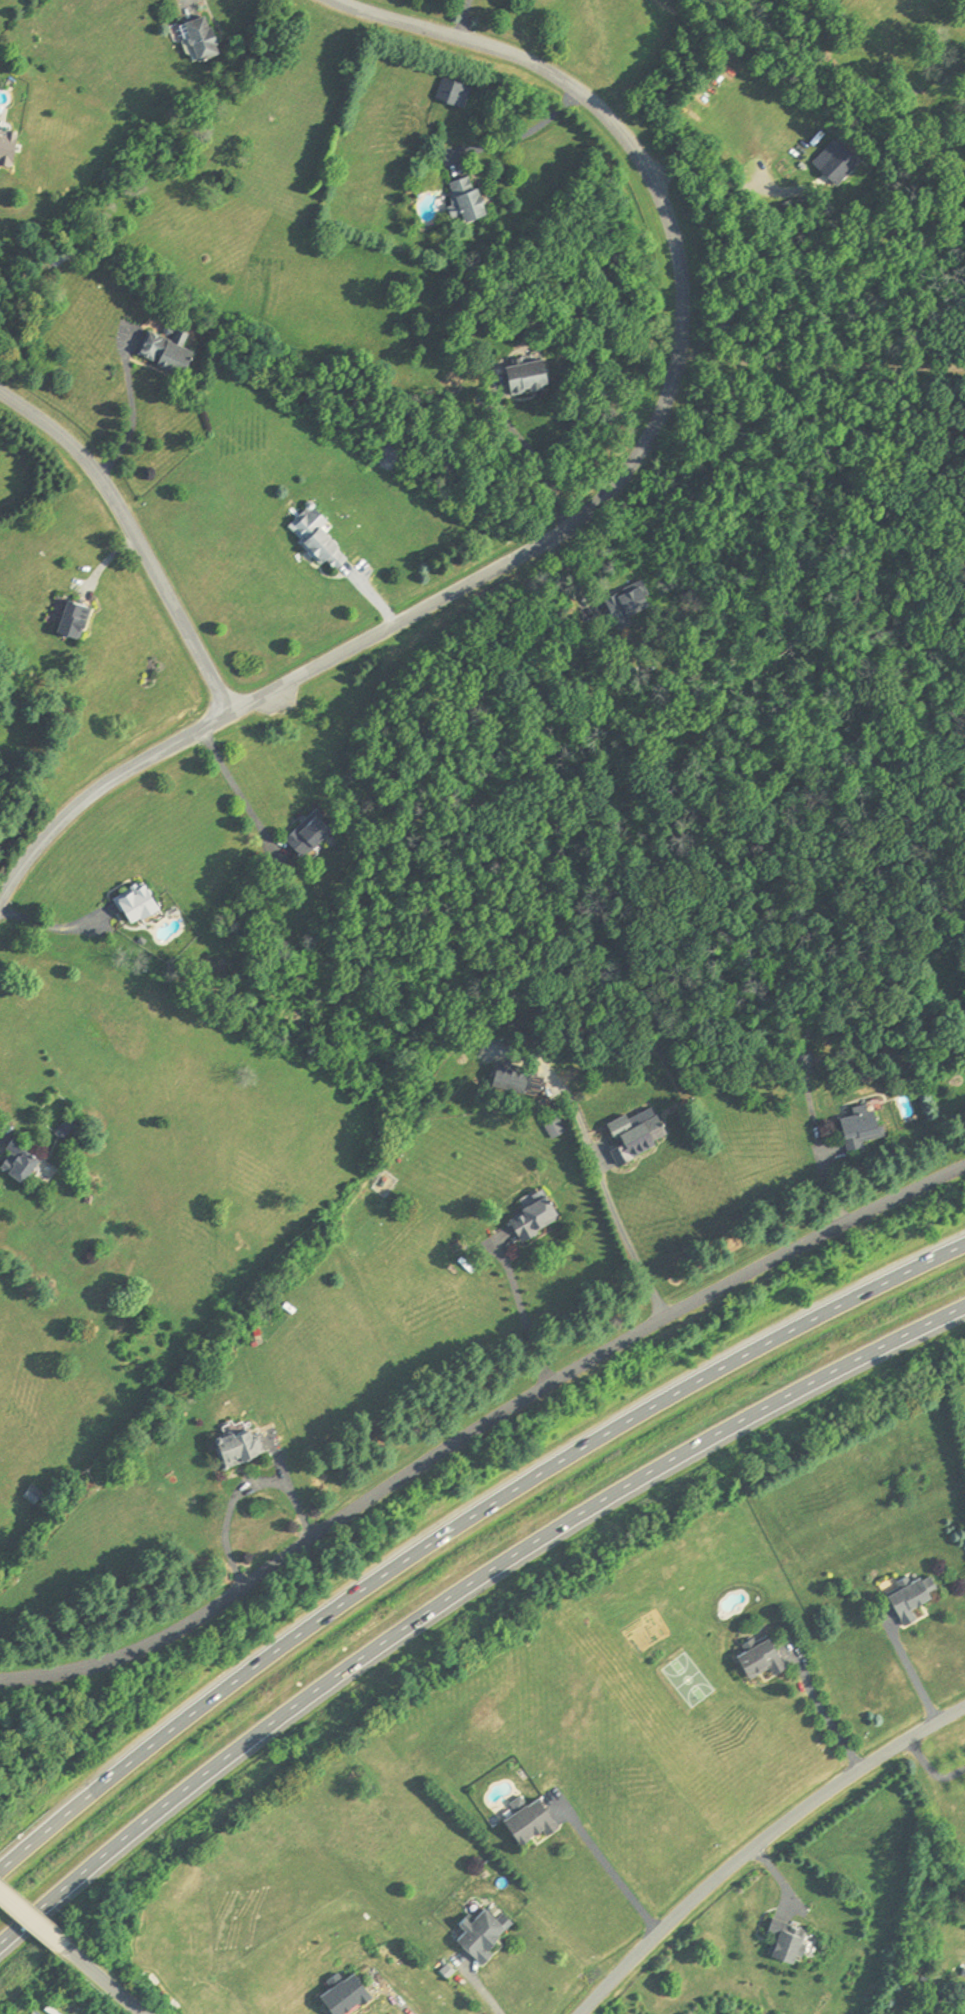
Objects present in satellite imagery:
road: (465, 20)
building: (201, 37)
building: (439, 92)
road: (522, 136)
building: (7, 147)
building: (830, 167)
building: (451, 197)
building: (466, 199)
building: (168, 351)
road: (821, 367)
road: (676, 371)
building: (527, 375)
road: (133, 414)
road: (535, 458)
road: (138, 536)
building: (318, 537)
road: (376, 600)
building: (628, 605)
building: (73, 619)
road: (101, 795)
road: (241, 795)
building: (326, 829)
building: (308, 835)
building: (137, 901)
road: (53, 928)
building: (863, 1130)
building: (633, 1134)
building: (19, 1158)
road: (825, 1159)
road: (608, 1193)
building: (535, 1216)
building: (516, 1218)
road: (522, 1313)
road: (479, 1426)
building: (236, 1447)
road: (244, 1490)
building: (40, 1495)
road: (462, 1523)
road: (459, 1586)
building: (899, 1598)
building: (745, 1660)
road: (911, 1677)
park: (688, 1680)
road: (823, 1713)
road: (932, 1771)
building: (541, 1823)
road: (763, 1847)
road: (615, 1870)
road: (779, 1878)
road: (33, 1918)
building: (491, 1934)
building: (787, 1939)
road: (105, 1981)
road: (481, 1989)
building: (345, 1993)
road: (398, 2003)

